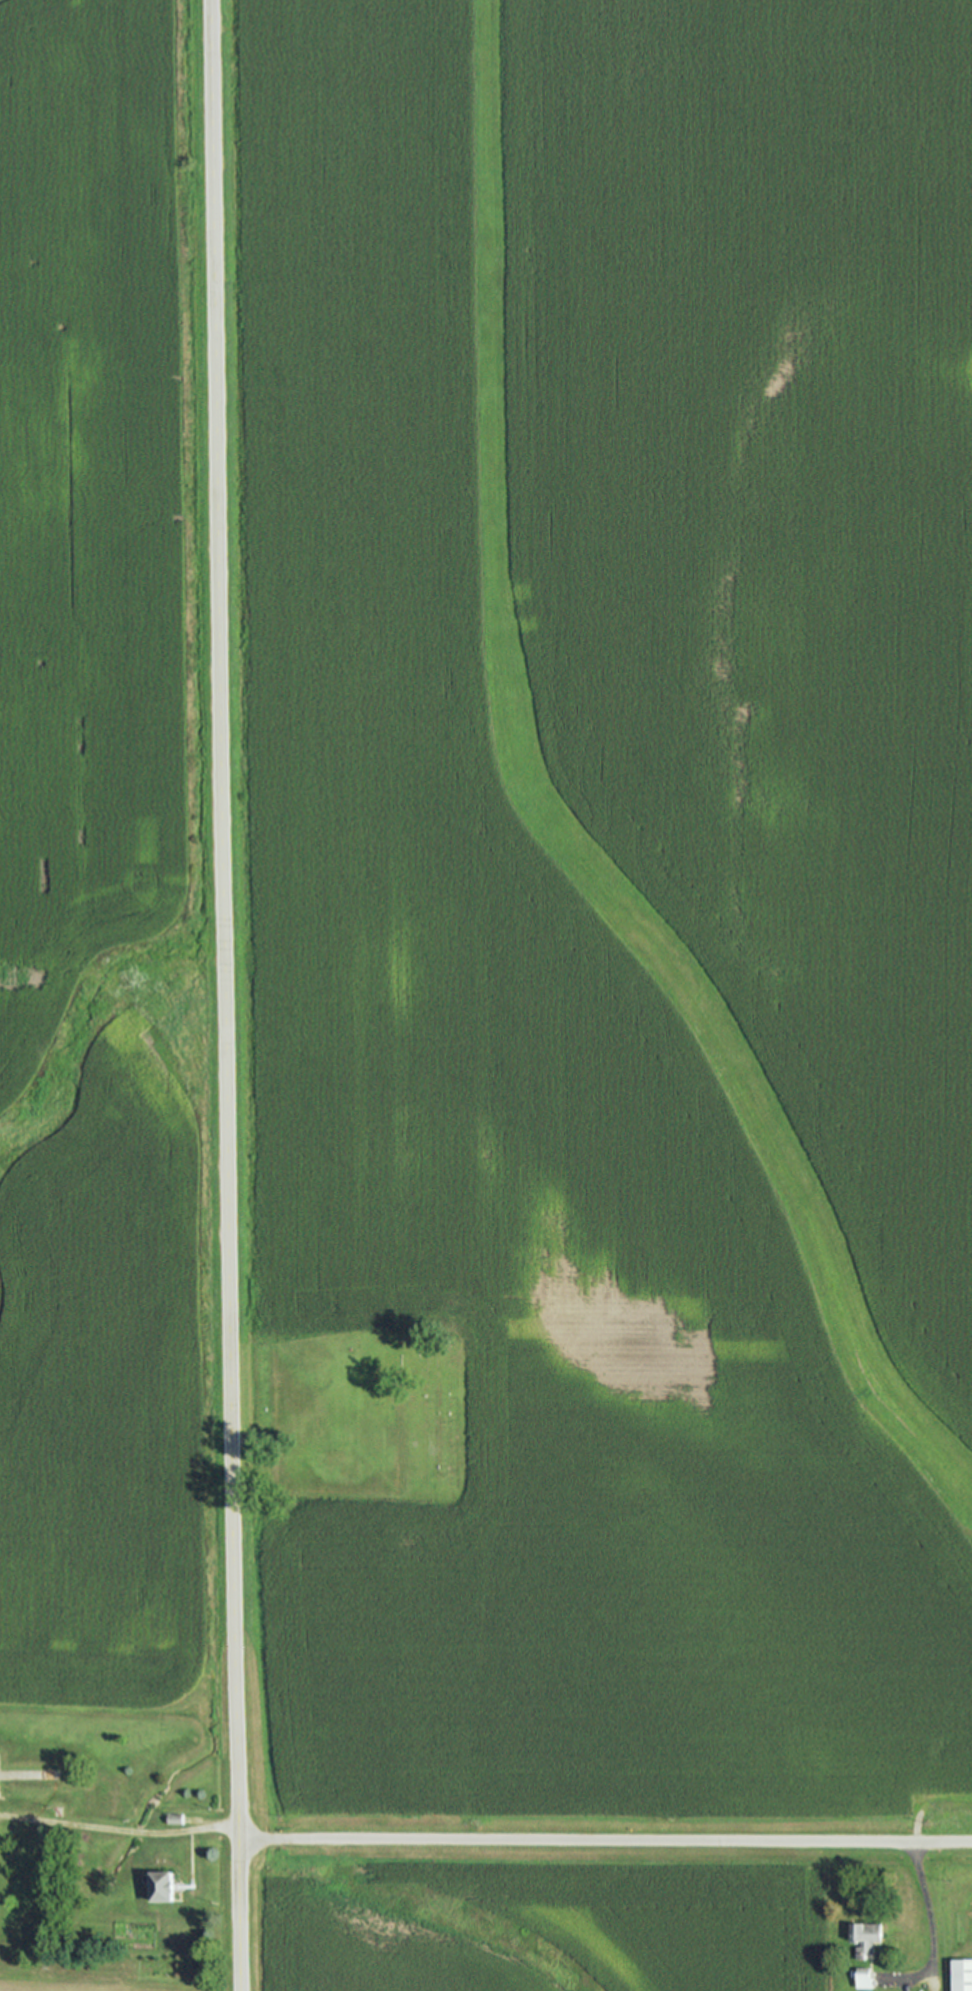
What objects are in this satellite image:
road: (224, 995)
building: (174, 1819)
road: (118, 1831)
road: (605, 1836)
building: (164, 1886)
building: (864, 1938)
building: (960, 1975)
building: (862, 1977)

